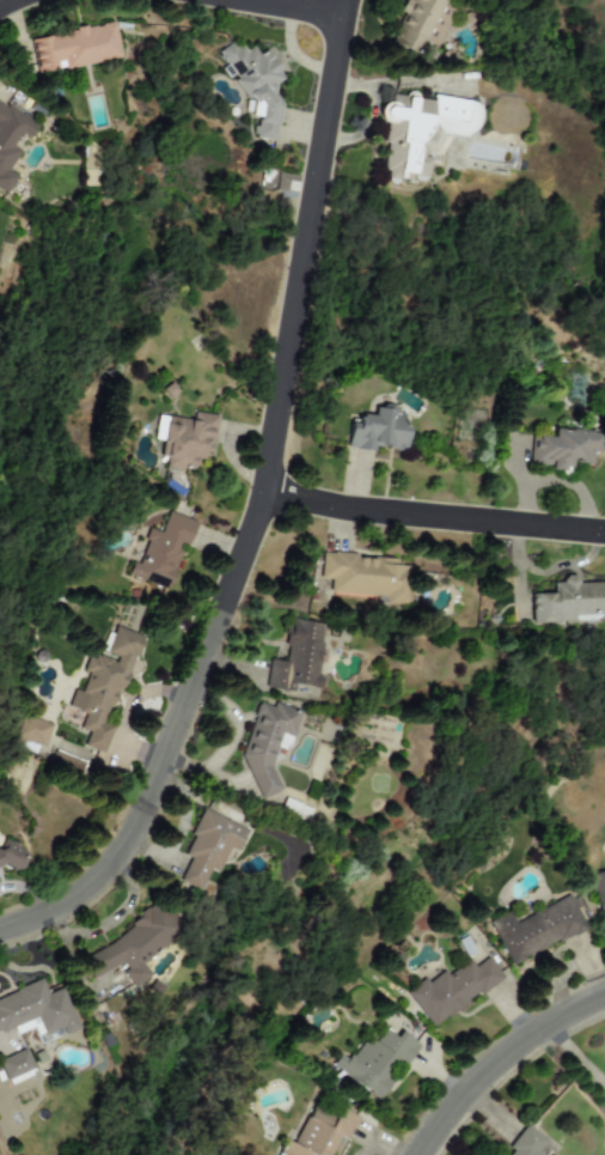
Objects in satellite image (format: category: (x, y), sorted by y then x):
road: (5, 4)
road: (286, 8)
building: (420, 24)
building: (73, 48)
building: (253, 85)
building: (418, 128)
building: (11, 141)
road: (293, 315)
building: (375, 430)
building: (187, 439)
building: (563, 449)
road: (439, 515)
building: (161, 552)
building: (366, 577)
building: (568, 602)
building: (298, 657)
building: (102, 685)
building: (31, 730)
building: (265, 744)
building: (27, 747)
building: (68, 761)
road: (146, 807)
building: (208, 846)
building: (10, 856)
building: (599, 898)
building: (560, 942)
building: (136, 944)
building: (462, 987)
building: (30, 1022)
road: (574, 1056)
building: (378, 1060)
road: (500, 1060)
building: (337, 1132)
building: (531, 1148)

